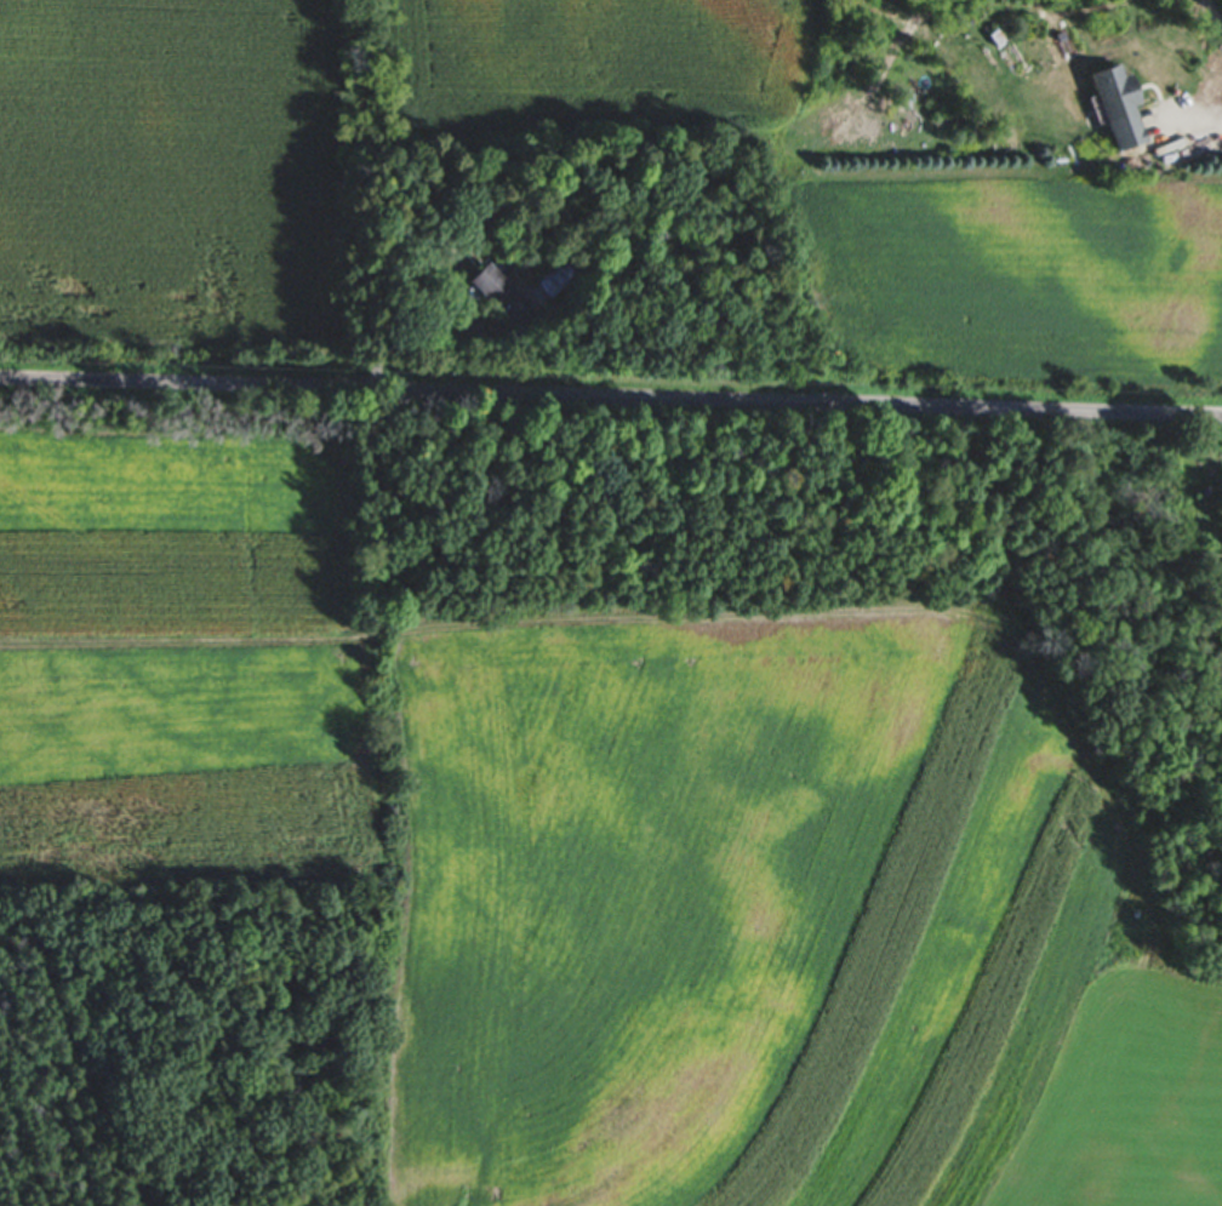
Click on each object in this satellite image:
building: (1115, 107)
road: (1194, 120)
building: (554, 280)
building: (497, 295)
road: (610, 398)

